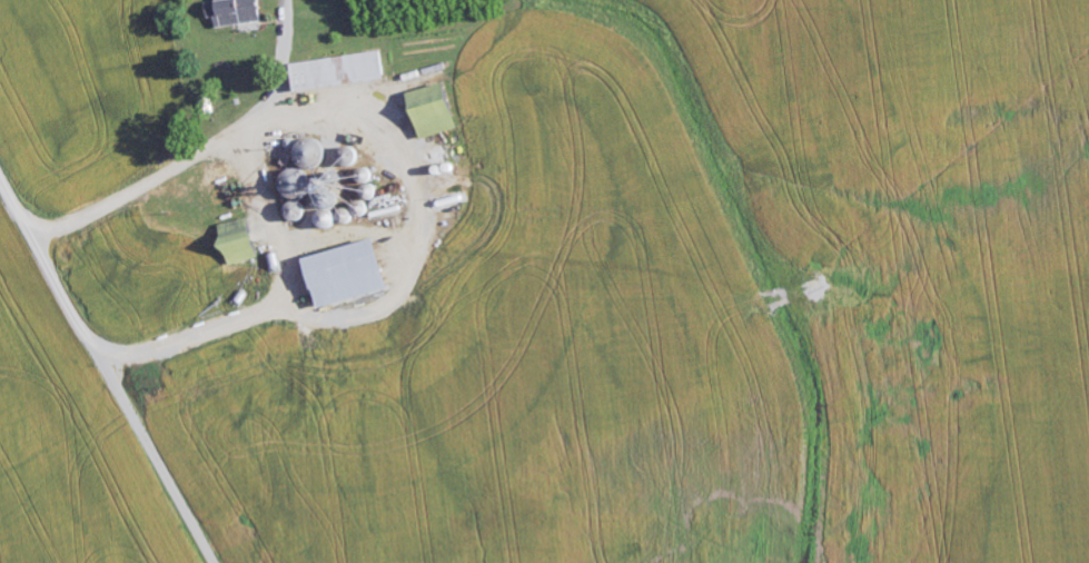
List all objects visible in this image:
building: (236, 12)
building: (340, 72)
building: (436, 112)
road: (234, 181)
building: (298, 187)
building: (241, 246)
building: (349, 276)
road: (106, 372)

